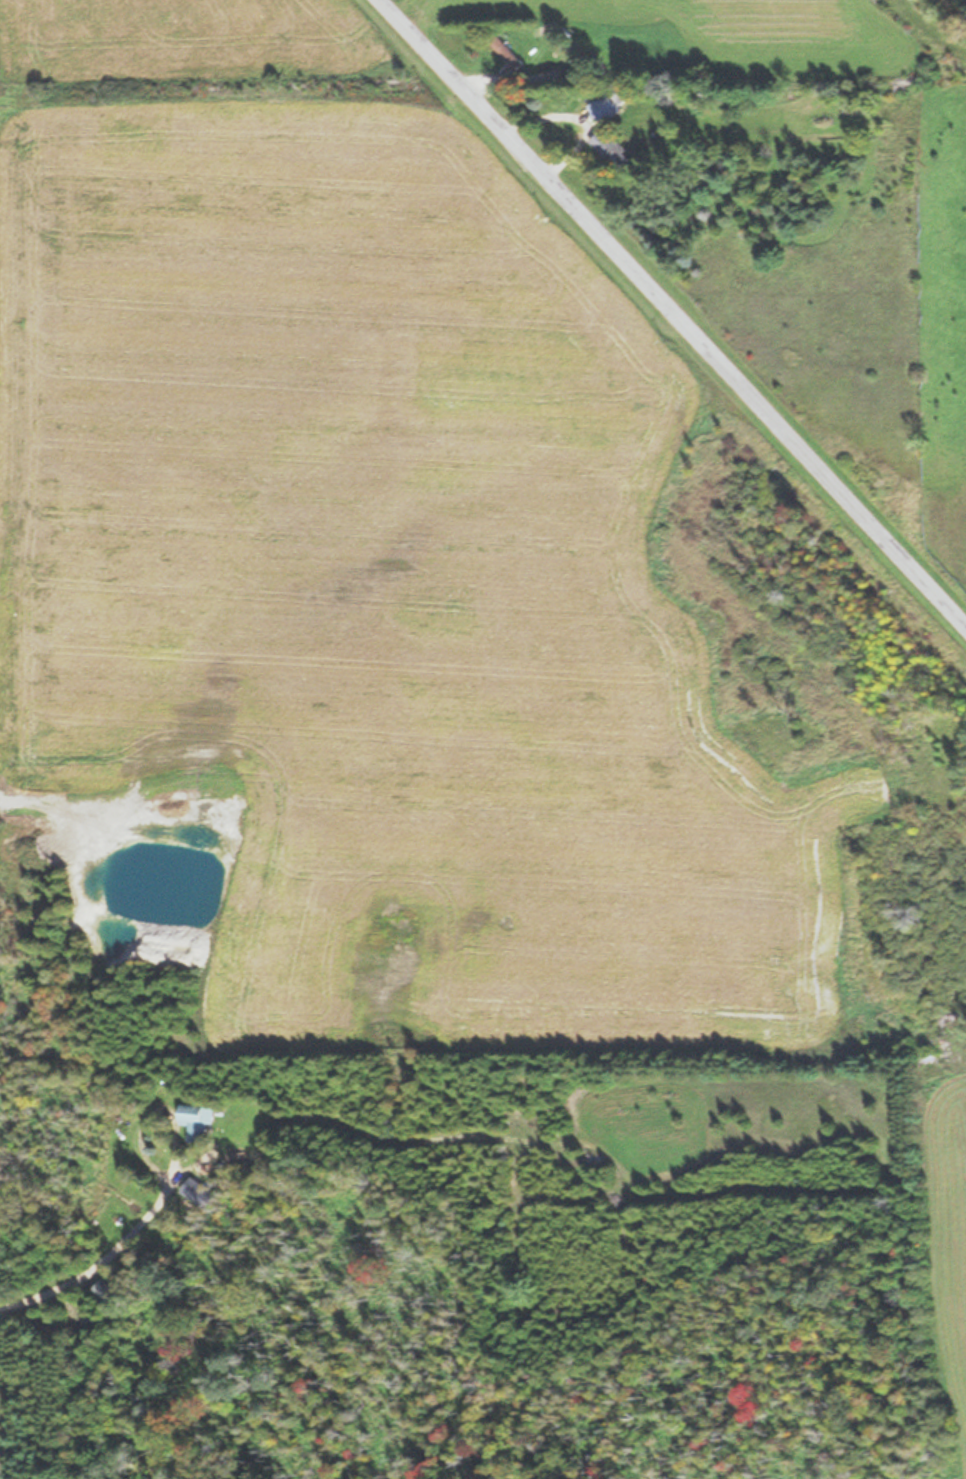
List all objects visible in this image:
building: (602, 107)
building: (608, 148)
road: (669, 317)
building: (196, 1121)
road: (79, 1175)
building: (197, 1192)
building: (107, 1293)

